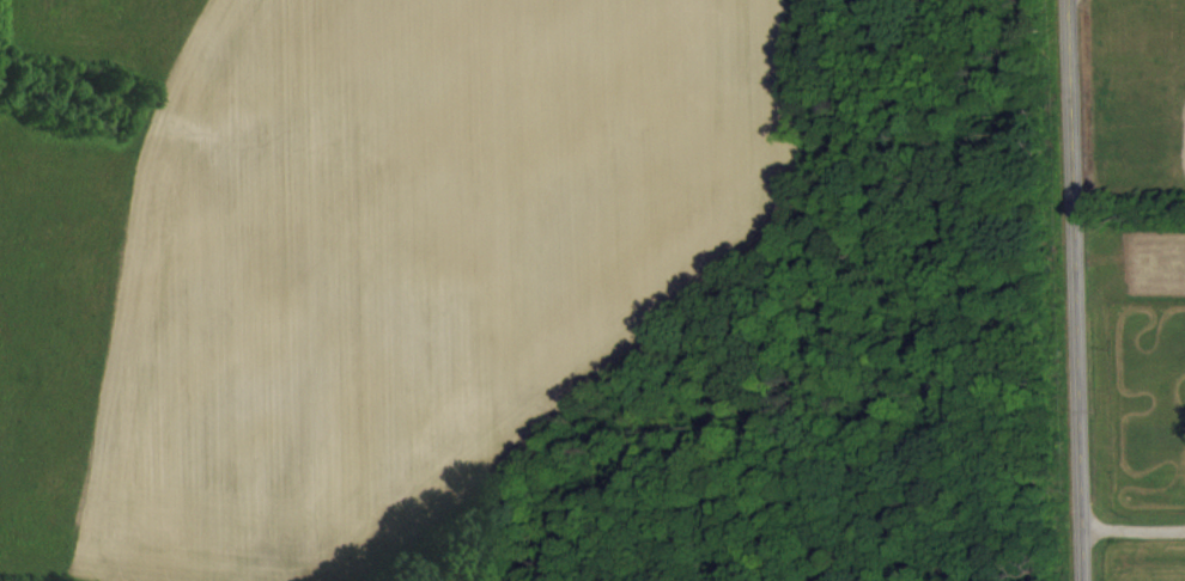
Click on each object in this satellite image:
road: (1081, 290)
road: (1135, 525)

